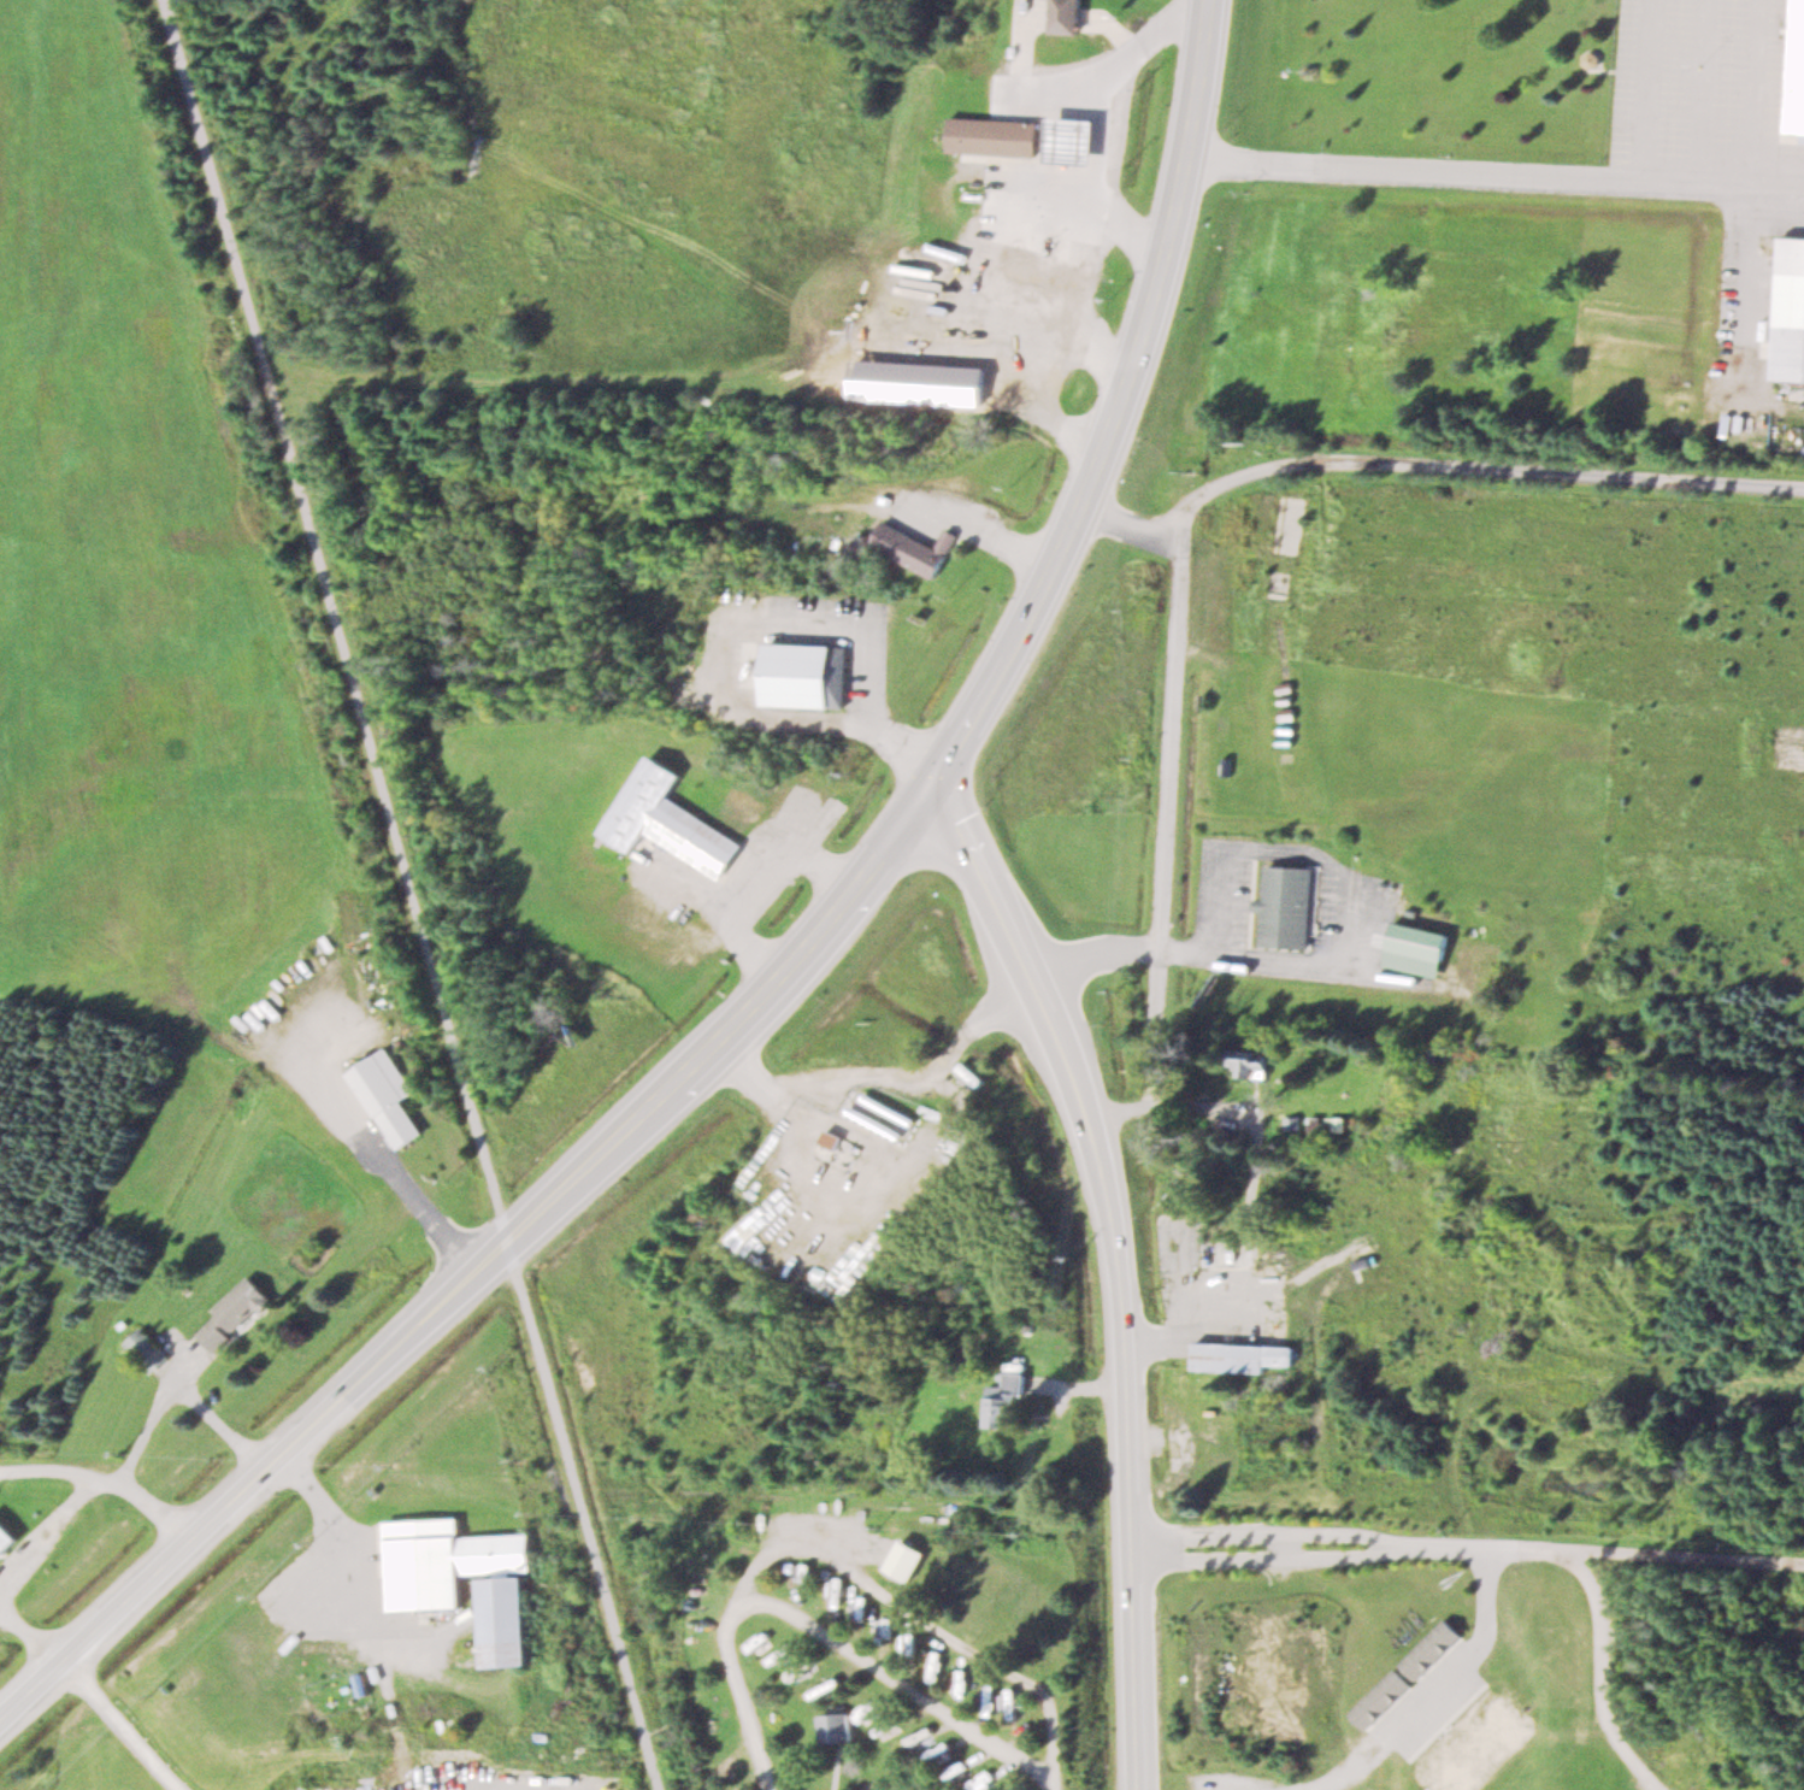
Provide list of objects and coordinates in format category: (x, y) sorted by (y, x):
building: (1067, 16)
building: (1796, 71)
road: (1112, 123)
building: (1000, 135)
building: (1073, 139)
road: (1499, 181)
building: (1791, 311)
road: (1433, 465)
building: (904, 546)
building: (1275, 583)
building: (806, 675)
building: (670, 822)
road: (1168, 848)
road: (409, 895)
building: (1287, 906)
building: (1420, 949)
road: (1098, 964)
road: (779, 975)
building: (1254, 1064)
building: (971, 1074)
road: (890, 1089)
building: (388, 1096)
building: (1338, 1123)
road: (1120, 1268)
building: (236, 1313)
building: (1245, 1358)
building: (1006, 1402)
road: (108, 1477)
road: (312, 1491)
building: (7, 1538)
road: (1466, 1547)
building: (447, 1560)
road: (848, 1566)
building: (508, 1619)
building: (888, 1630)
building: (764, 1637)
building: (784, 1651)
road: (381, 1653)
building: (942, 1657)
building: (803, 1670)
building: (1407, 1673)
road: (1606, 1679)
road: (898, 1682)
building: (966, 1682)
building: (829, 1683)
road: (1435, 1694)
building: (871, 1708)
building: (838, 1727)
building: (912, 1741)
building: (1479, 1747)
building: (942, 1754)
building: (963, 1766)

